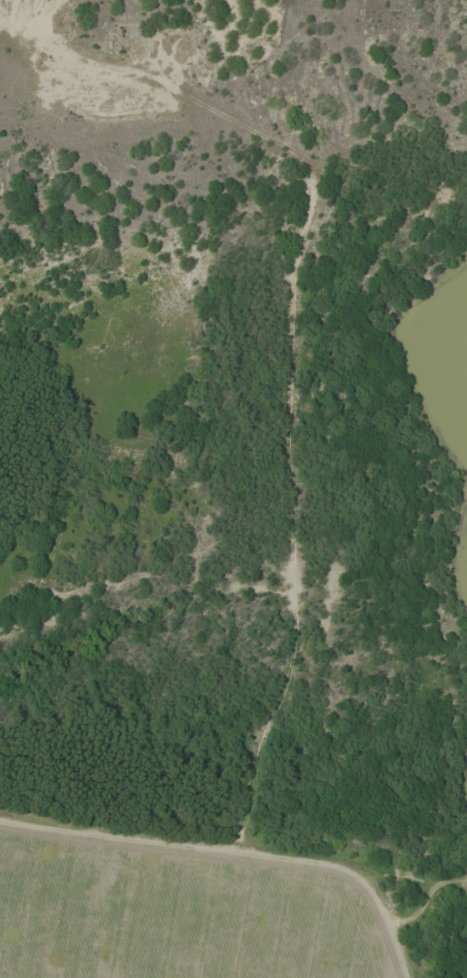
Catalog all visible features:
road: (93, 813)

